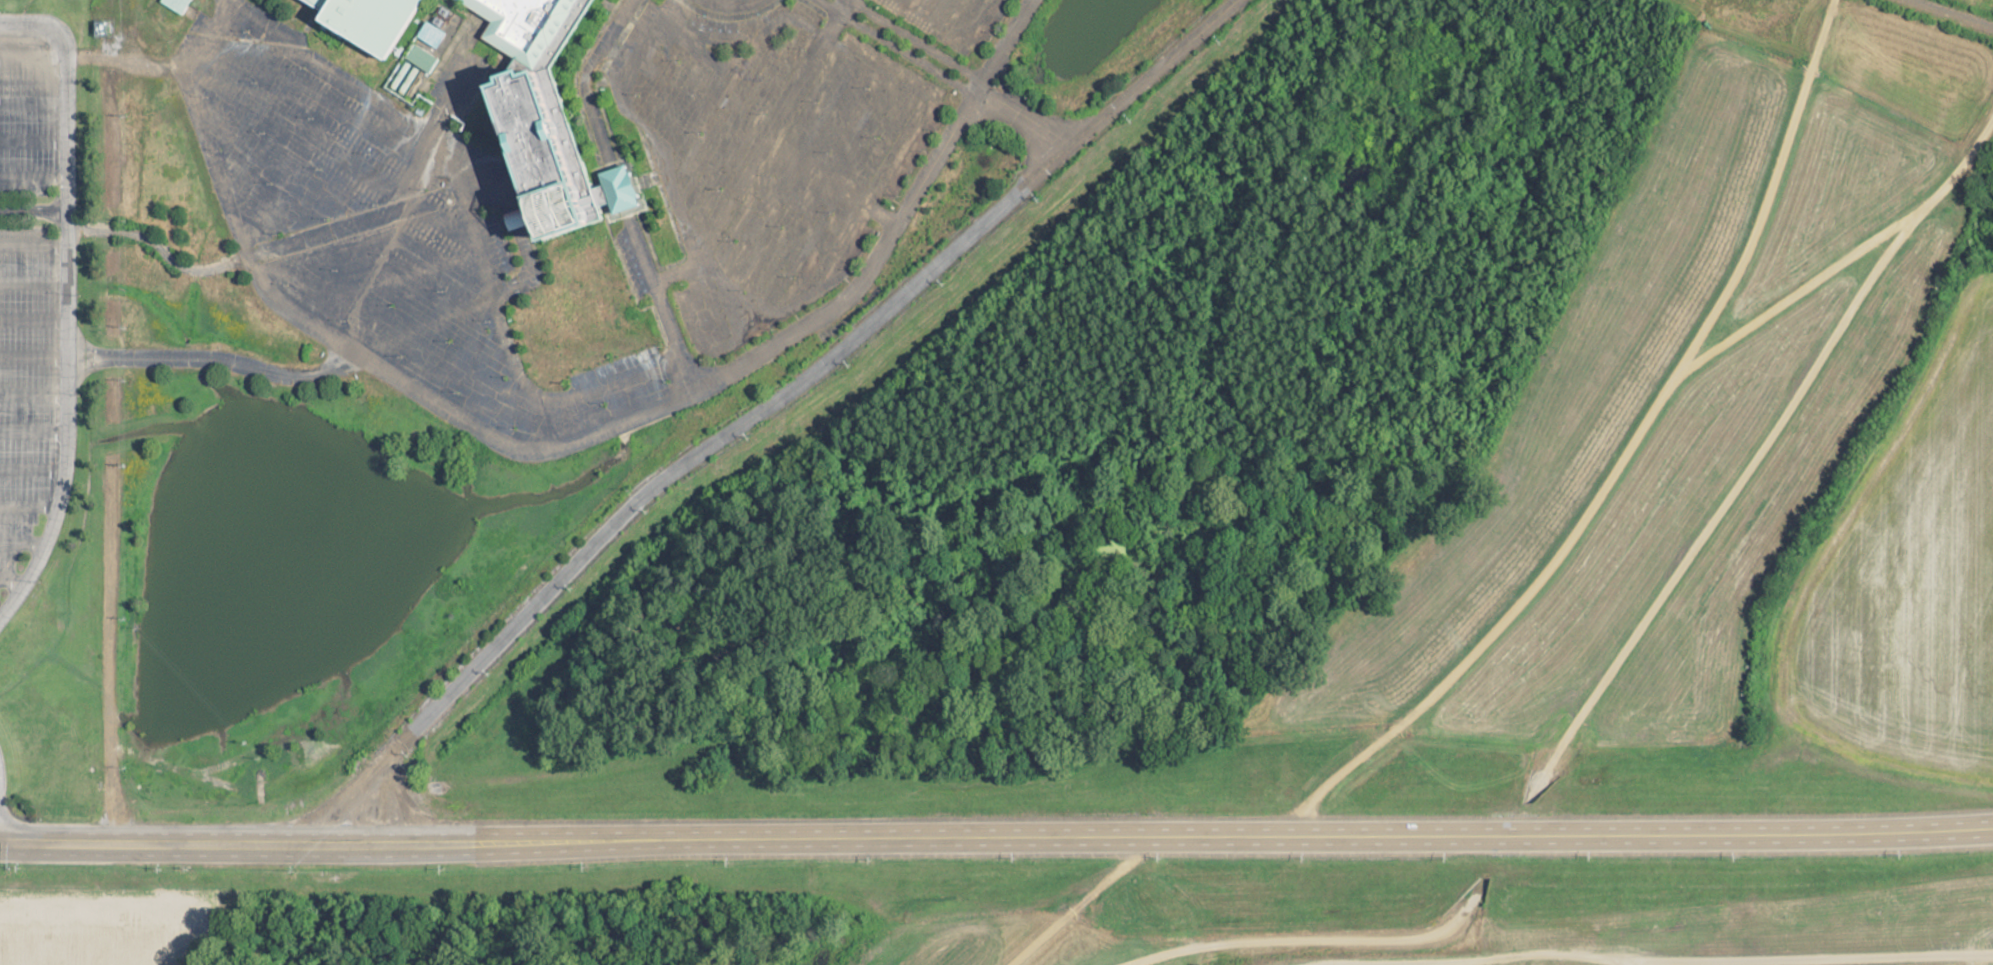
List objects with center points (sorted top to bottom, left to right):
building: (182, 5)
road: (1947, 15)
building: (381, 22)
building: (435, 33)
building: (432, 61)
road: (945, 76)
road: (588, 79)
building: (555, 118)
road: (620, 191)
road: (33, 210)
road: (66, 299)
road: (662, 303)
road: (234, 359)
road: (726, 373)
road: (774, 400)
road: (113, 421)
road: (1623, 460)
road: (1626, 650)
road: (996, 838)
road: (1081, 903)
road: (1736, 964)

